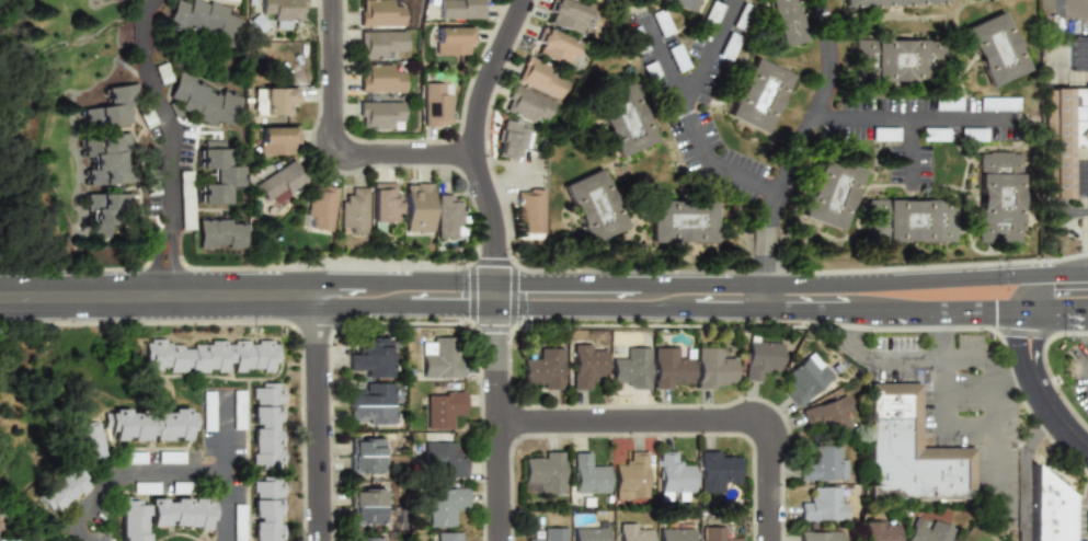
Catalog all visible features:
building: (230, 0)
building: (677, 3)
building: (889, 3)
road: (1054, 5)
road: (147, 8)
building: (460, 9)
road: (70, 10)
building: (283, 10)
road: (1072, 11)
building: (381, 12)
building: (565, 14)
building: (703, 20)
building: (780, 21)
building: (656, 22)
building: (206, 24)
road: (145, 36)
building: (451, 39)
building: (633, 42)
building: (380, 43)
building: (724, 45)
building: (553, 46)
building: (993, 49)
building: (1077, 53)
road: (660, 54)
building: (674, 57)
building: (893, 59)
building: (649, 74)
building: (541, 77)
building: (379, 78)
building: (754, 96)
road: (813, 100)
building: (274, 101)
building: (206, 102)
building: (944, 103)
building: (996, 103)
building: (435, 104)
building: (527, 105)
road: (686, 112)
building: (380, 114)
building: (104, 117)
building: (146, 117)
road: (908, 119)
building: (621, 120)
road: (1061, 131)
building: (882, 133)
building: (931, 134)
building: (971, 134)
road: (471, 138)
building: (512, 138)
building: (1066, 138)
building: (275, 140)
road: (332, 140)
road: (904, 148)
building: (107, 161)
road: (172, 172)
building: (219, 179)
building: (1079, 180)
building: (280, 183)
building: (826, 193)
building: (999, 203)
building: (385, 204)
building: (594, 206)
building: (319, 207)
building: (416, 207)
building: (529, 210)
building: (354, 211)
building: (449, 217)
building: (110, 218)
building: (678, 221)
road: (1065, 223)
building: (908, 225)
road: (764, 238)
building: (220, 242)
traffic signals: (494, 253)
road: (1069, 272)
road: (1040, 273)
traffic signals: (1029, 274)
road: (337, 281)
road: (408, 281)
road: (472, 283)
traffic signals: (529, 283)
road: (566, 283)
road: (834, 284)
road: (1028, 290)
road: (157, 295)
road: (494, 295)
road: (764, 296)
road: (1057, 307)
road: (359, 308)
road: (451, 308)
traffic signals: (465, 308)
road: (671, 308)
road: (911, 308)
road: (982, 308)
traffic signals: (1028, 308)
road: (868, 309)
road: (937, 335)
traffic signals: (494, 337)
road: (1027, 337)
traffic signals: (1028, 344)
building: (214, 354)
building: (438, 355)
building: (371, 357)
building: (760, 358)
road: (975, 362)
road: (870, 364)
building: (587, 366)
building: (632, 367)
building: (545, 368)
building: (672, 368)
building: (714, 368)
road: (1012, 376)
building: (804, 379)
road: (1045, 390)
building: (371, 404)
building: (238, 408)
building: (443, 408)
building: (207, 410)
building: (828, 415)
road: (316, 417)
road: (686, 418)
road: (938, 421)
building: (151, 422)
building: (271, 424)
road: (495, 424)
road: (222, 431)
road: (1070, 431)
road: (992, 439)
building: (88, 440)
building: (914, 452)
building: (365, 454)
building: (136, 457)
building: (171, 457)
building: (444, 460)
building: (825, 463)
road: (162, 465)
building: (718, 470)
road: (1026, 471)
building: (543, 473)
building: (587, 475)
building: (631, 476)
building: (674, 476)
building: (62, 486)
building: (146, 487)
building: (822, 504)
building: (366, 505)
building: (443, 505)
building: (1055, 506)
building: (271, 507)
building: (182, 510)
building: (134, 517)
building: (238, 522)
building: (881, 529)
building: (927, 530)
building: (630, 531)
building: (586, 533)
building: (547, 534)
building: (673, 534)
building: (713, 534)
building: (443, 536)
building: (821, 536)
building: (8, 539)
building: (364, 539)

